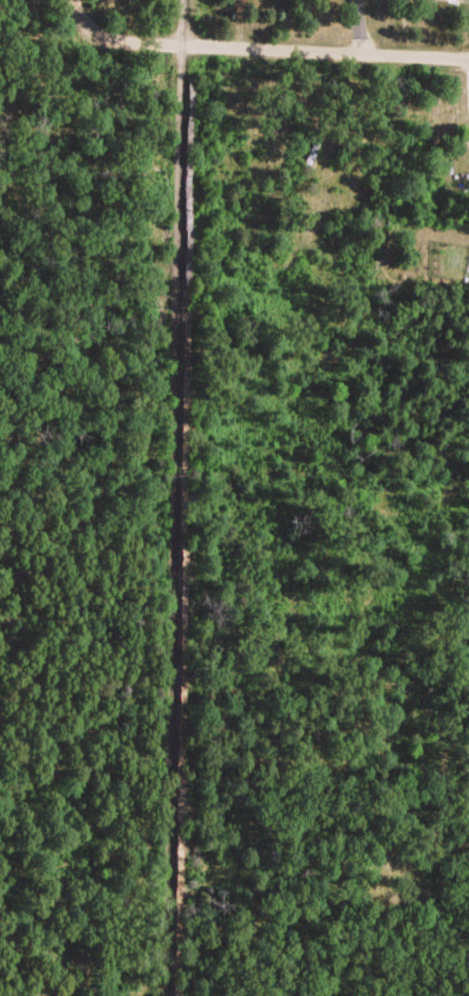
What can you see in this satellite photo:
road: (75, 7)
road: (124, 38)
road: (324, 49)
building: (310, 153)
road: (177, 498)

